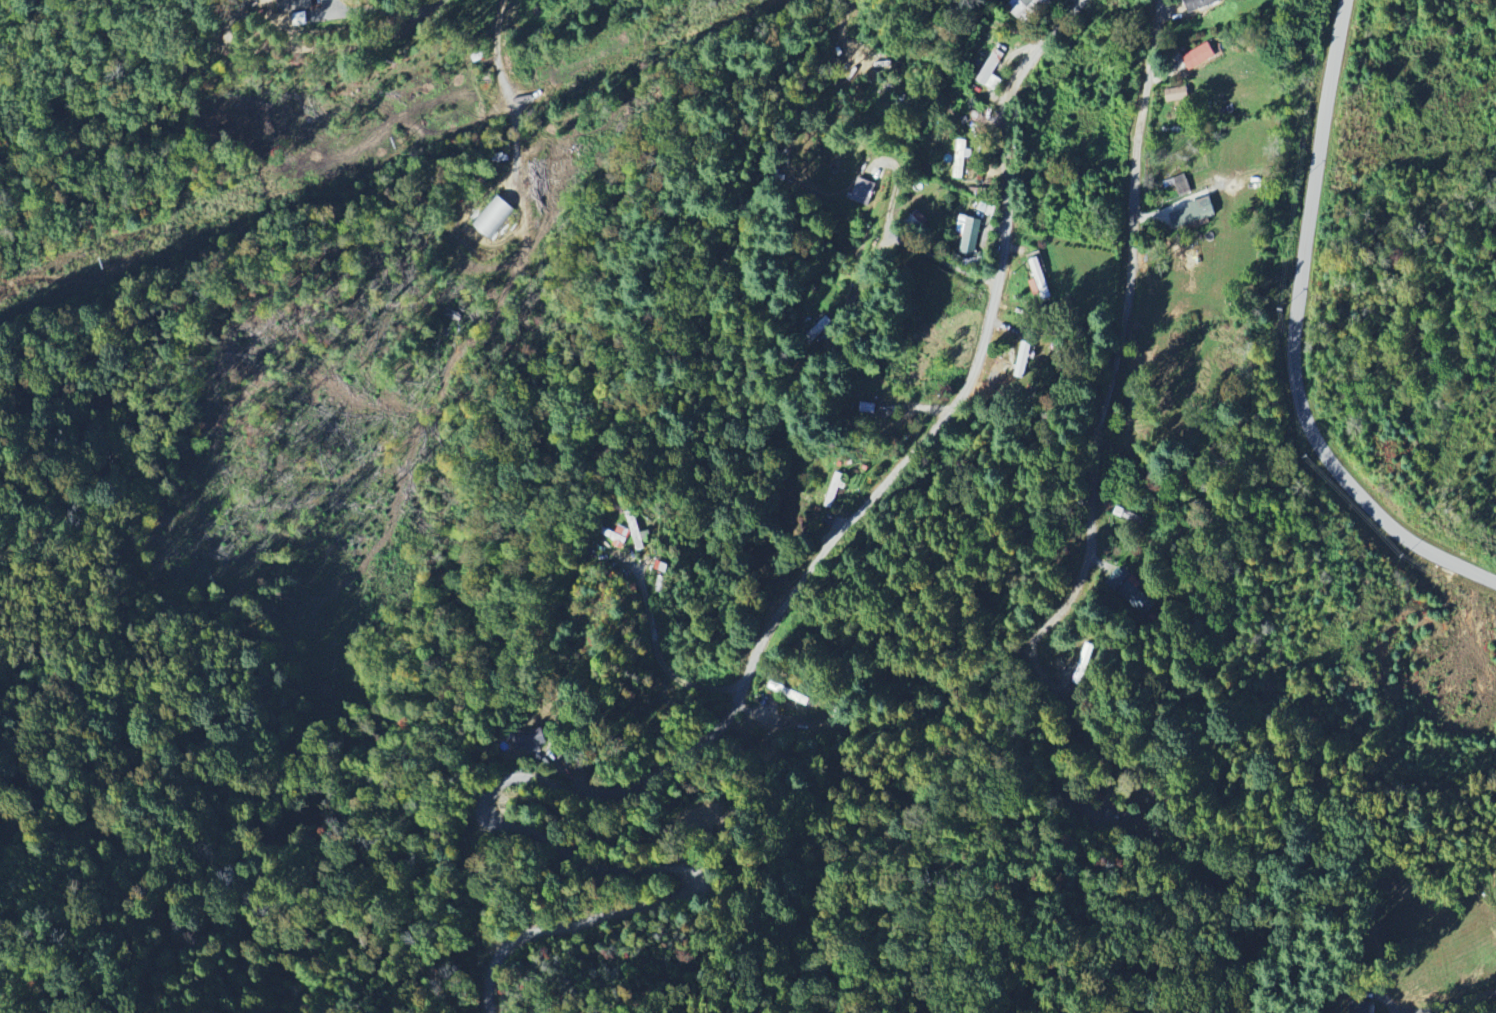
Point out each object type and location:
building: (1200, 4)
road: (333, 14)
road: (655, 43)
building: (1198, 56)
building: (991, 71)
building: (1176, 95)
building: (961, 157)
building: (1182, 185)
building: (863, 191)
building: (1192, 215)
building: (493, 217)
building: (916, 219)
road: (901, 237)
building: (970, 237)
building: (1039, 278)
building: (819, 328)
road: (1295, 336)
road: (1126, 338)
building: (1023, 359)
building: (869, 408)
building: (834, 490)
building: (615, 534)
building: (1135, 598)
building: (1083, 663)
building: (789, 692)
road: (734, 701)
road: (779, 723)
building: (534, 738)
road: (1089, 738)
road: (1437, 1007)

